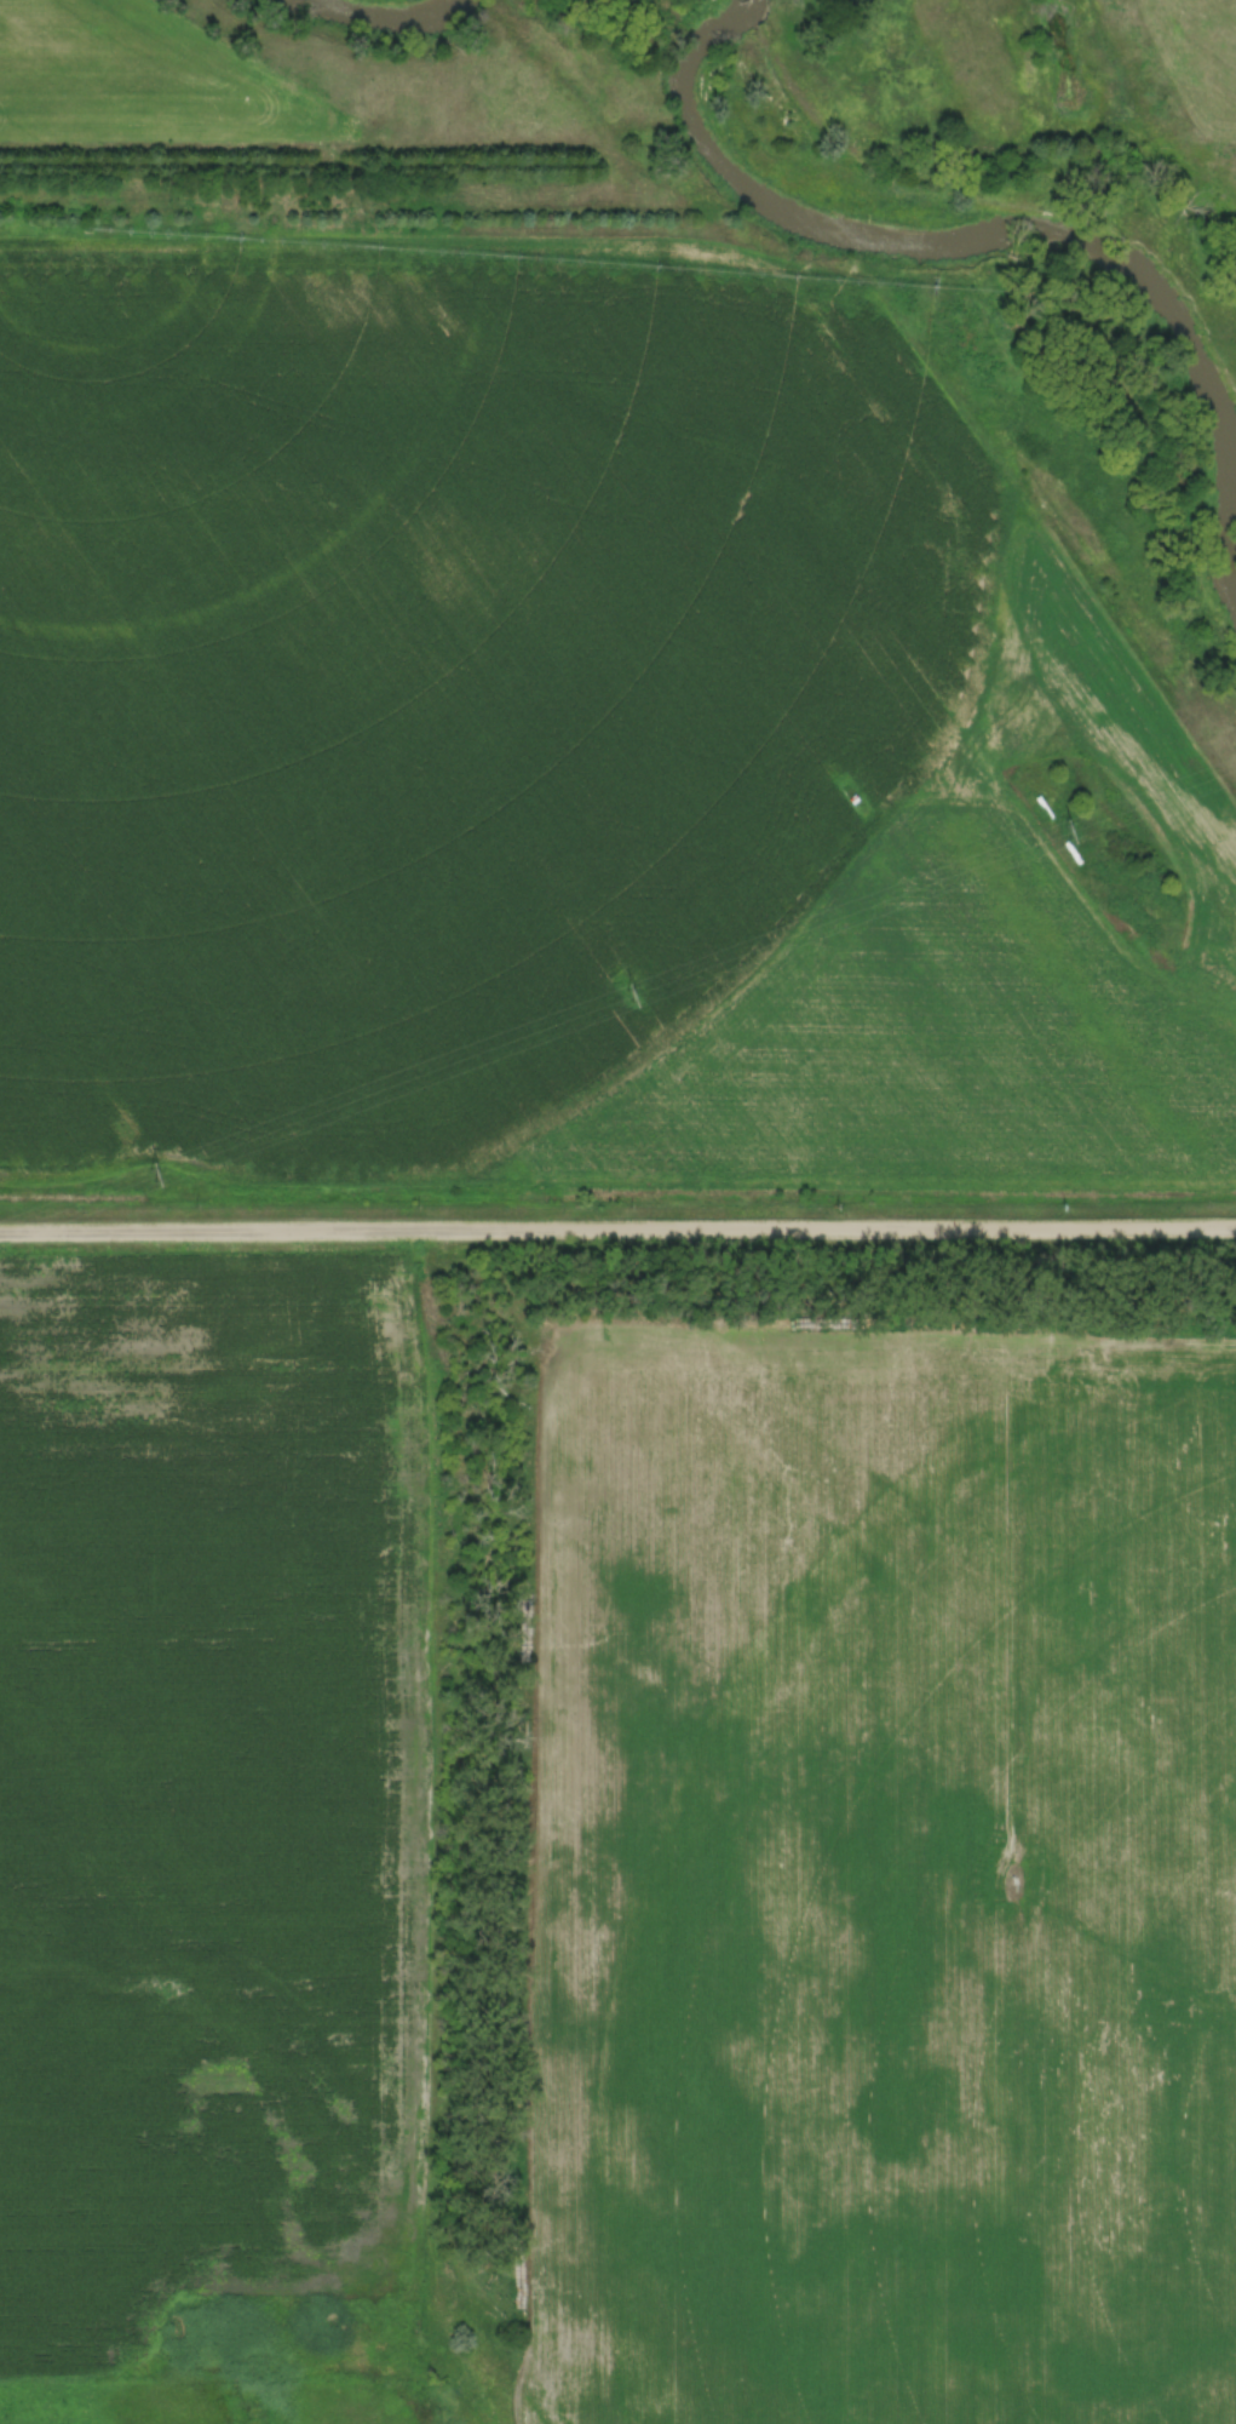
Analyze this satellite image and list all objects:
river: (396, 11)
river: (996, 227)
power tower: (1067, 831)
power tower: (631, 995)
power tower: (155, 1175)
road: (617, 1232)

